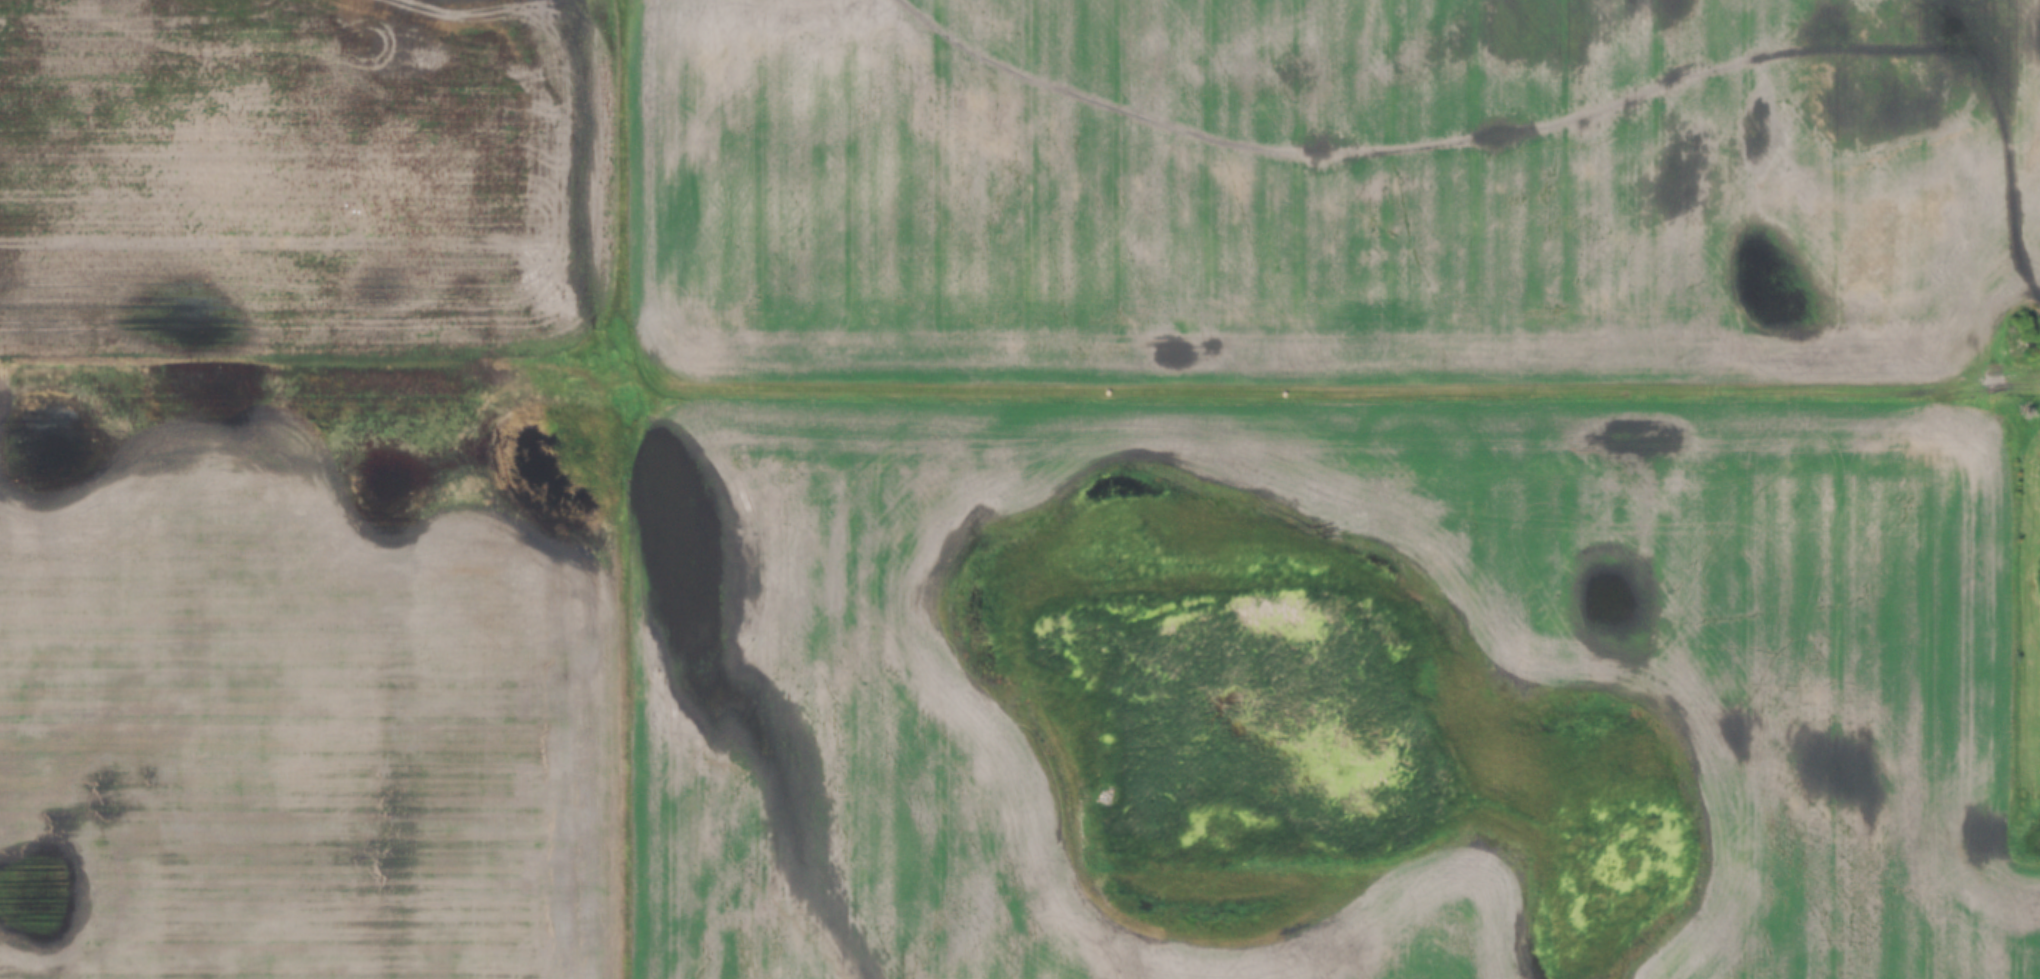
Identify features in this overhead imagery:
road: (1341, 399)

